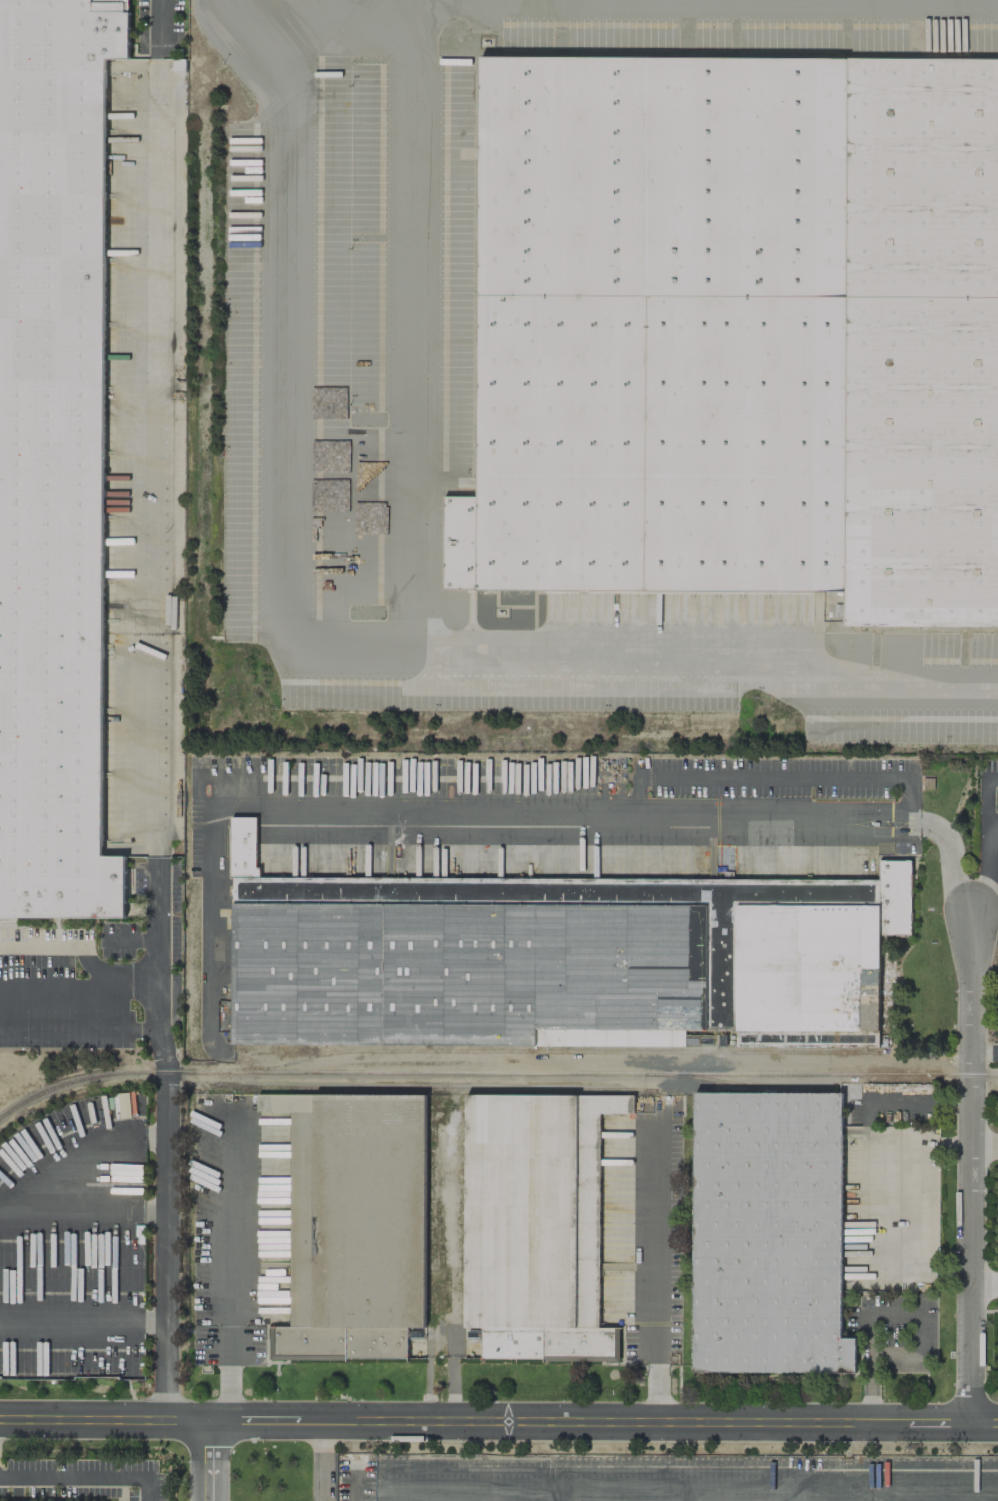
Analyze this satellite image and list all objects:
road: (334, 11)
road: (158, 25)
road: (409, 328)
building: (738, 331)
building: (53, 456)
road: (306, 653)
road: (636, 811)
road: (992, 821)
road: (986, 846)
building: (559, 958)
railway: (547, 1050)
road: (985, 1051)
railway: (493, 1072)
railway: (745, 1084)
railway: (435, 1088)
road: (159, 1126)
road: (972, 1173)
building: (354, 1225)
building: (534, 1226)
building: (768, 1233)
road: (226, 1273)
road: (657, 1274)
road: (882, 1310)
road: (499, 1421)
road: (206, 1460)
road: (321, 1460)
road: (84, 1477)
road: (602, 1495)

